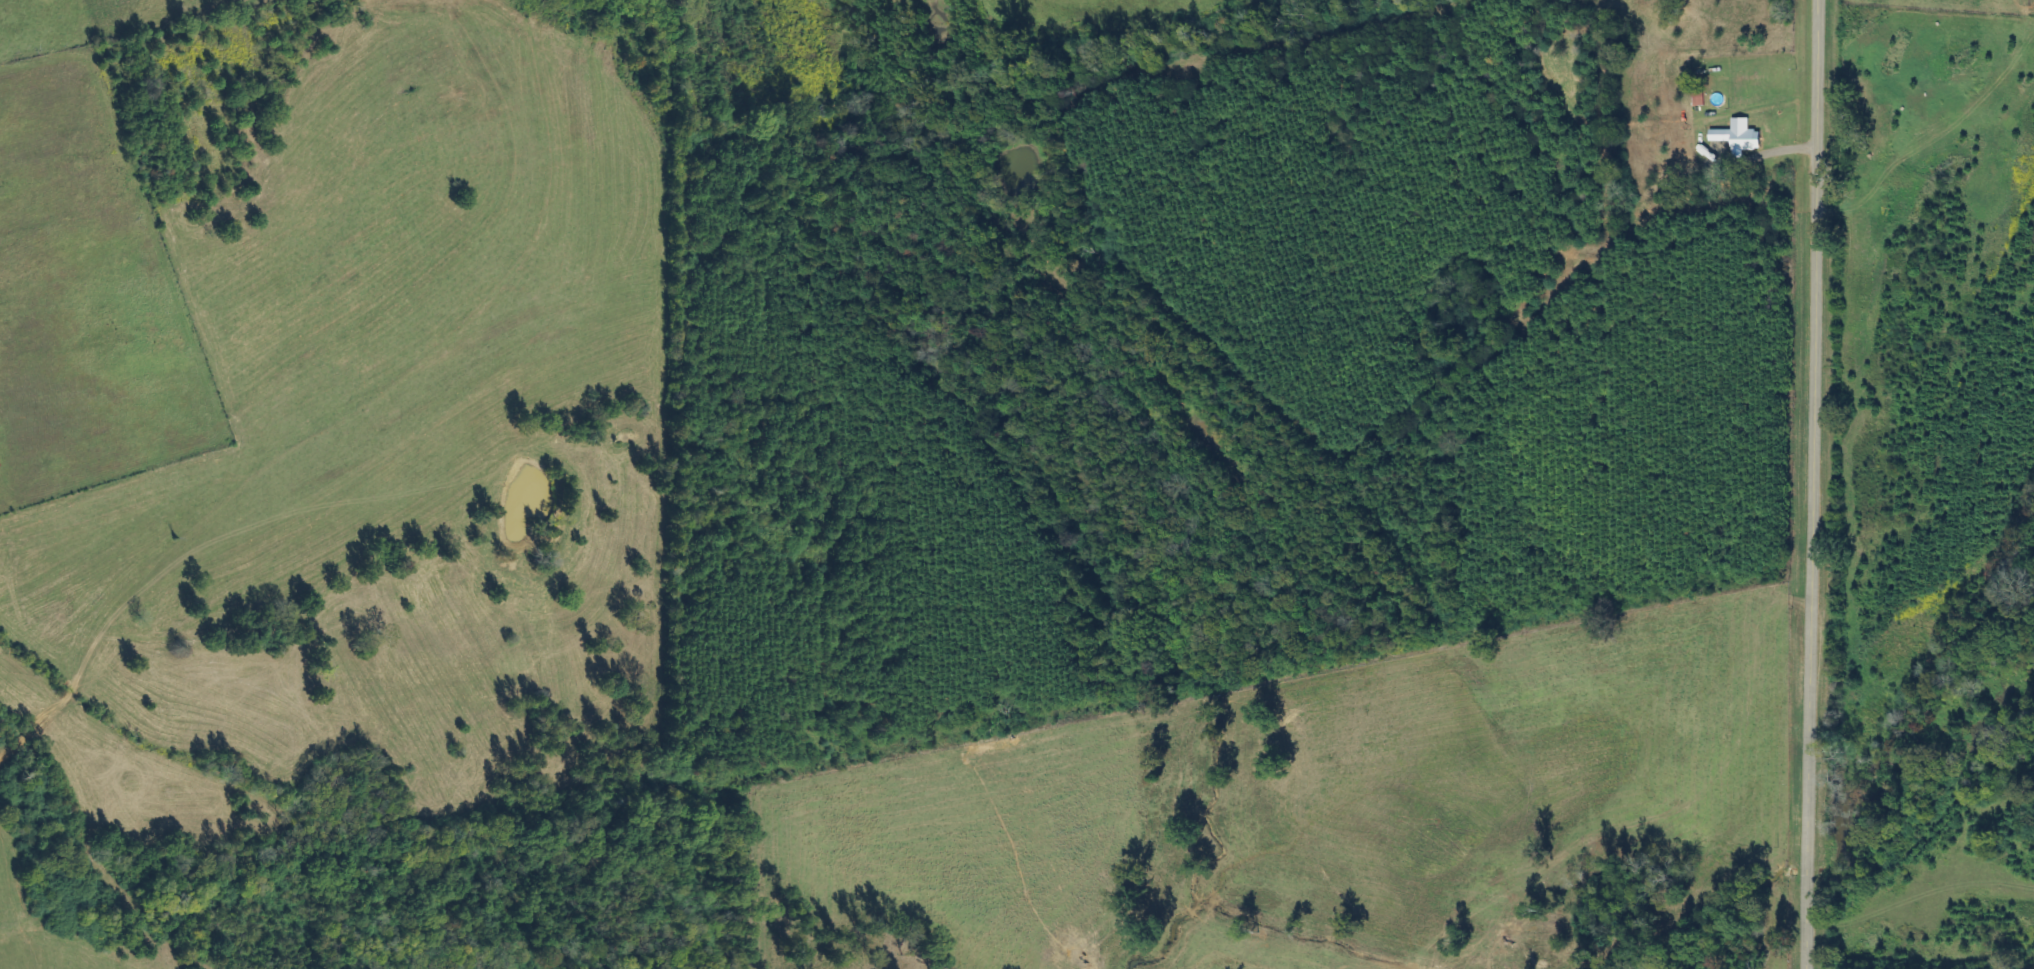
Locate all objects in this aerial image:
road: (1811, 484)

